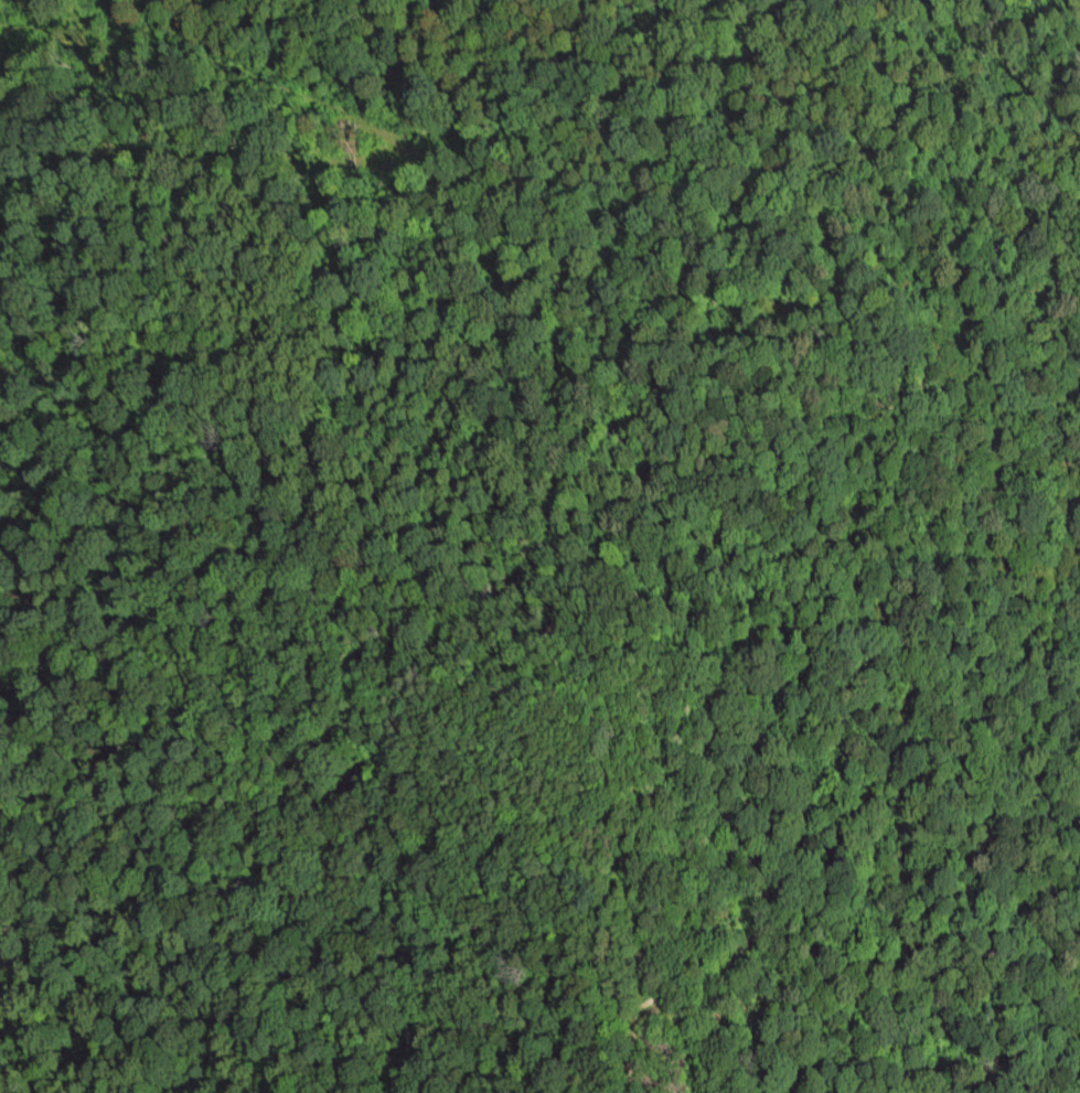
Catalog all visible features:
road: (1062, 0)
road: (973, 40)
road: (1014, 160)

